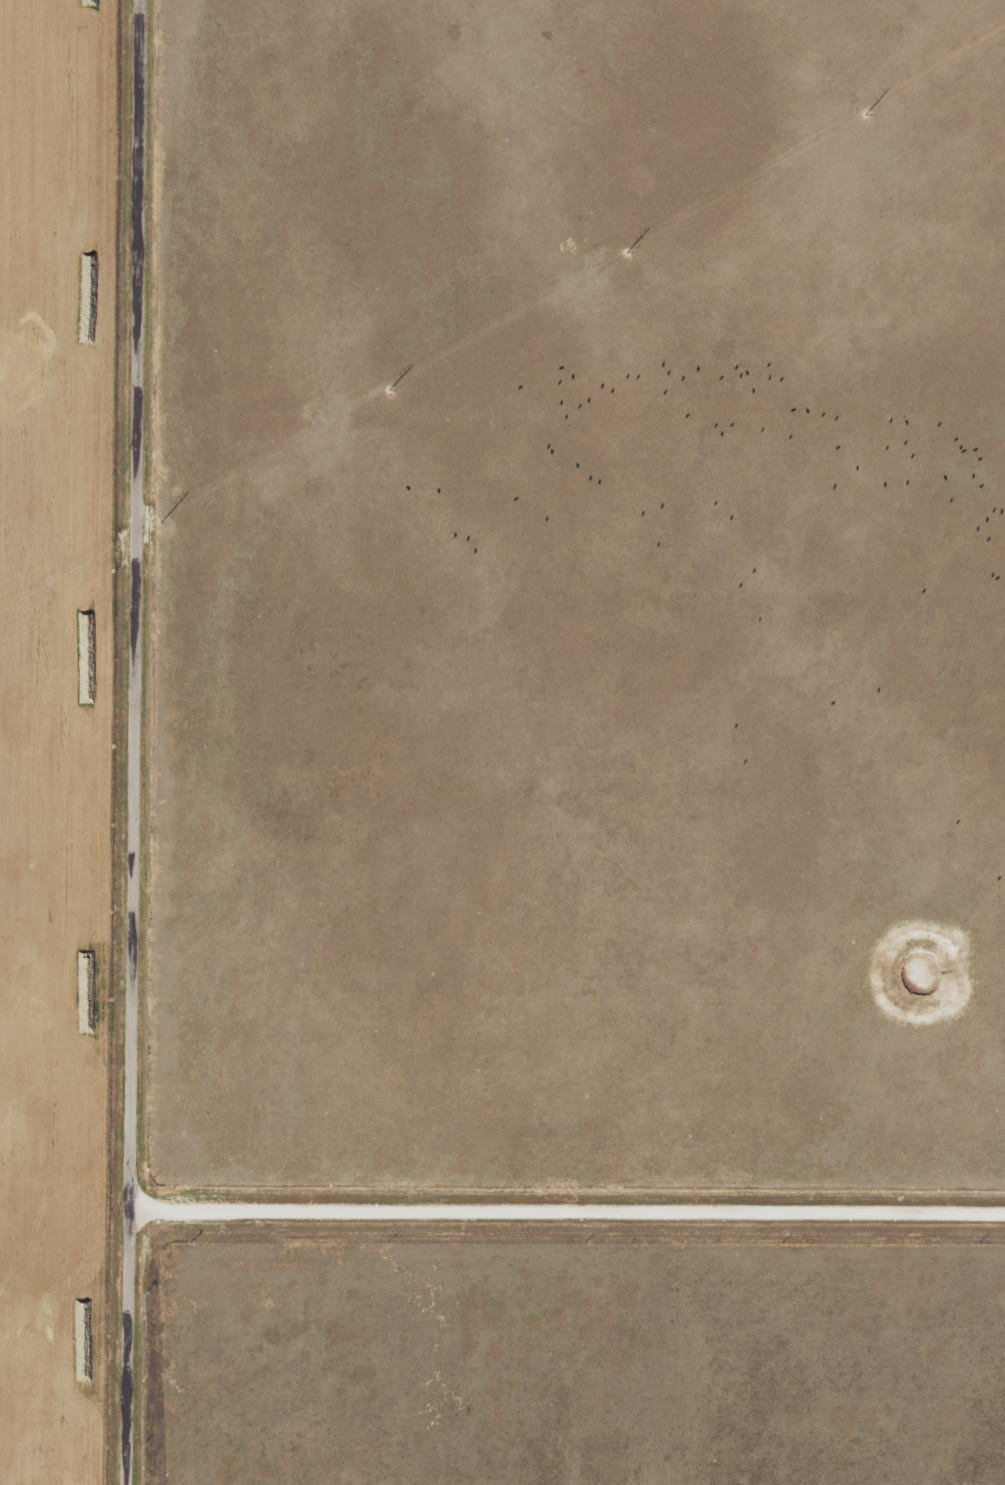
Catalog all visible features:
power tower: (860, 112)
power tower: (589, 268)
power tower: (318, 425)
power tower: (52, 579)
road: (135, 742)
road: (568, 1208)

